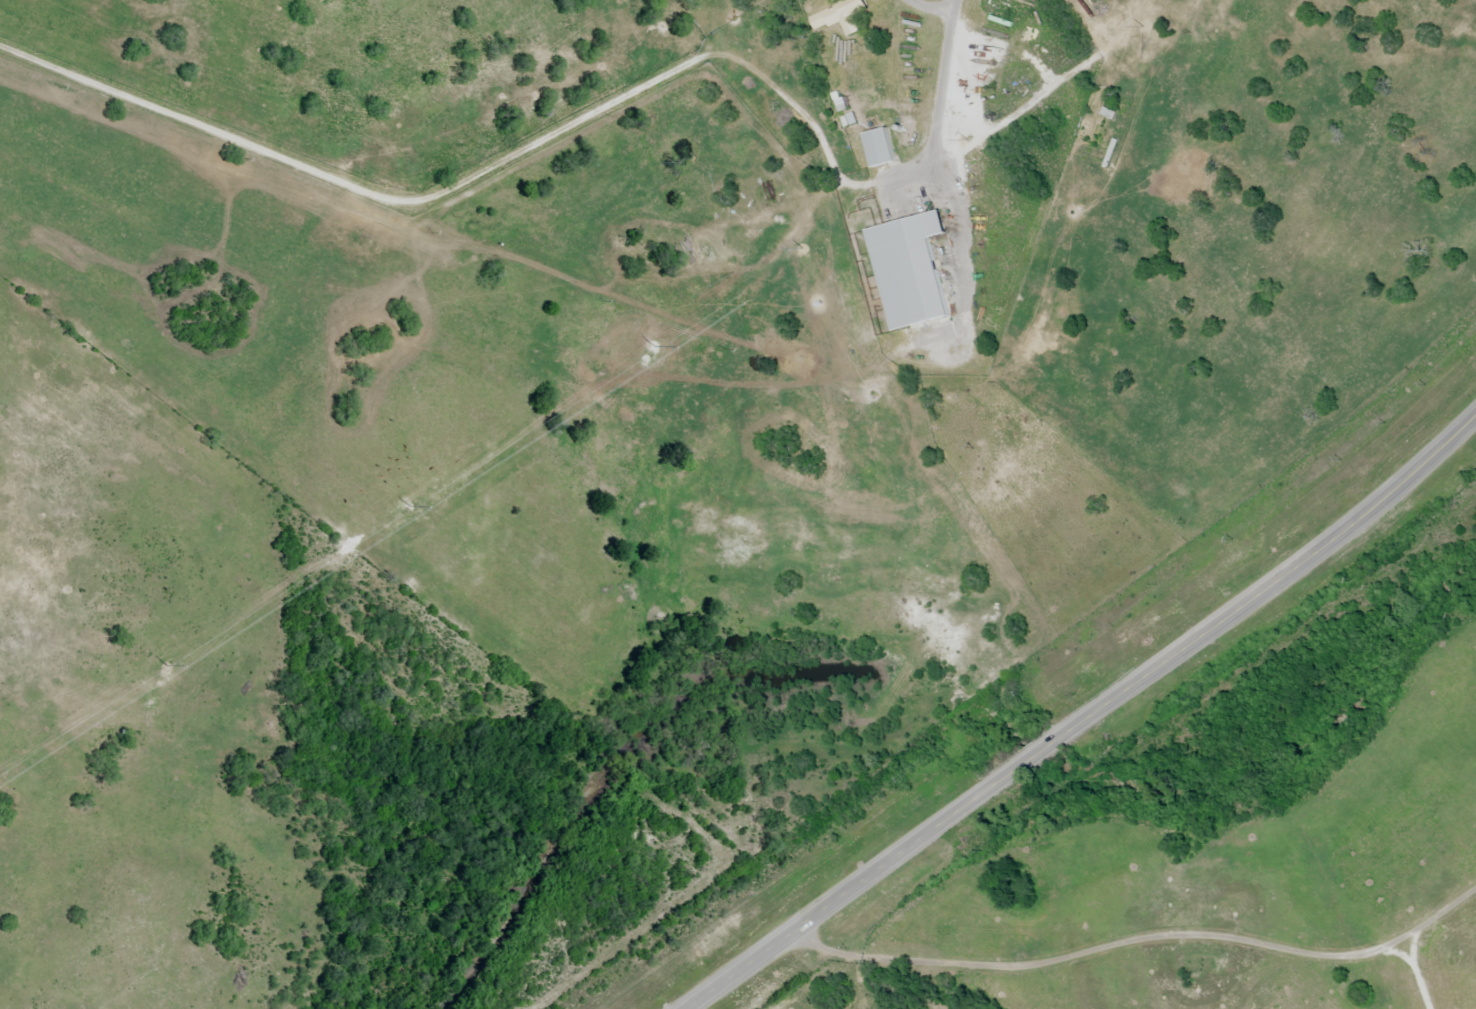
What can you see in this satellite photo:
building: (836, 16)
power tower: (1141, 27)
road: (568, 126)
power tower: (968, 139)
building: (878, 148)
power tower: (801, 249)
building: (908, 271)
power tower: (652, 346)
power tower: (407, 505)
railway: (1025, 666)
power tower: (164, 667)
road: (1087, 718)
road: (1139, 941)

